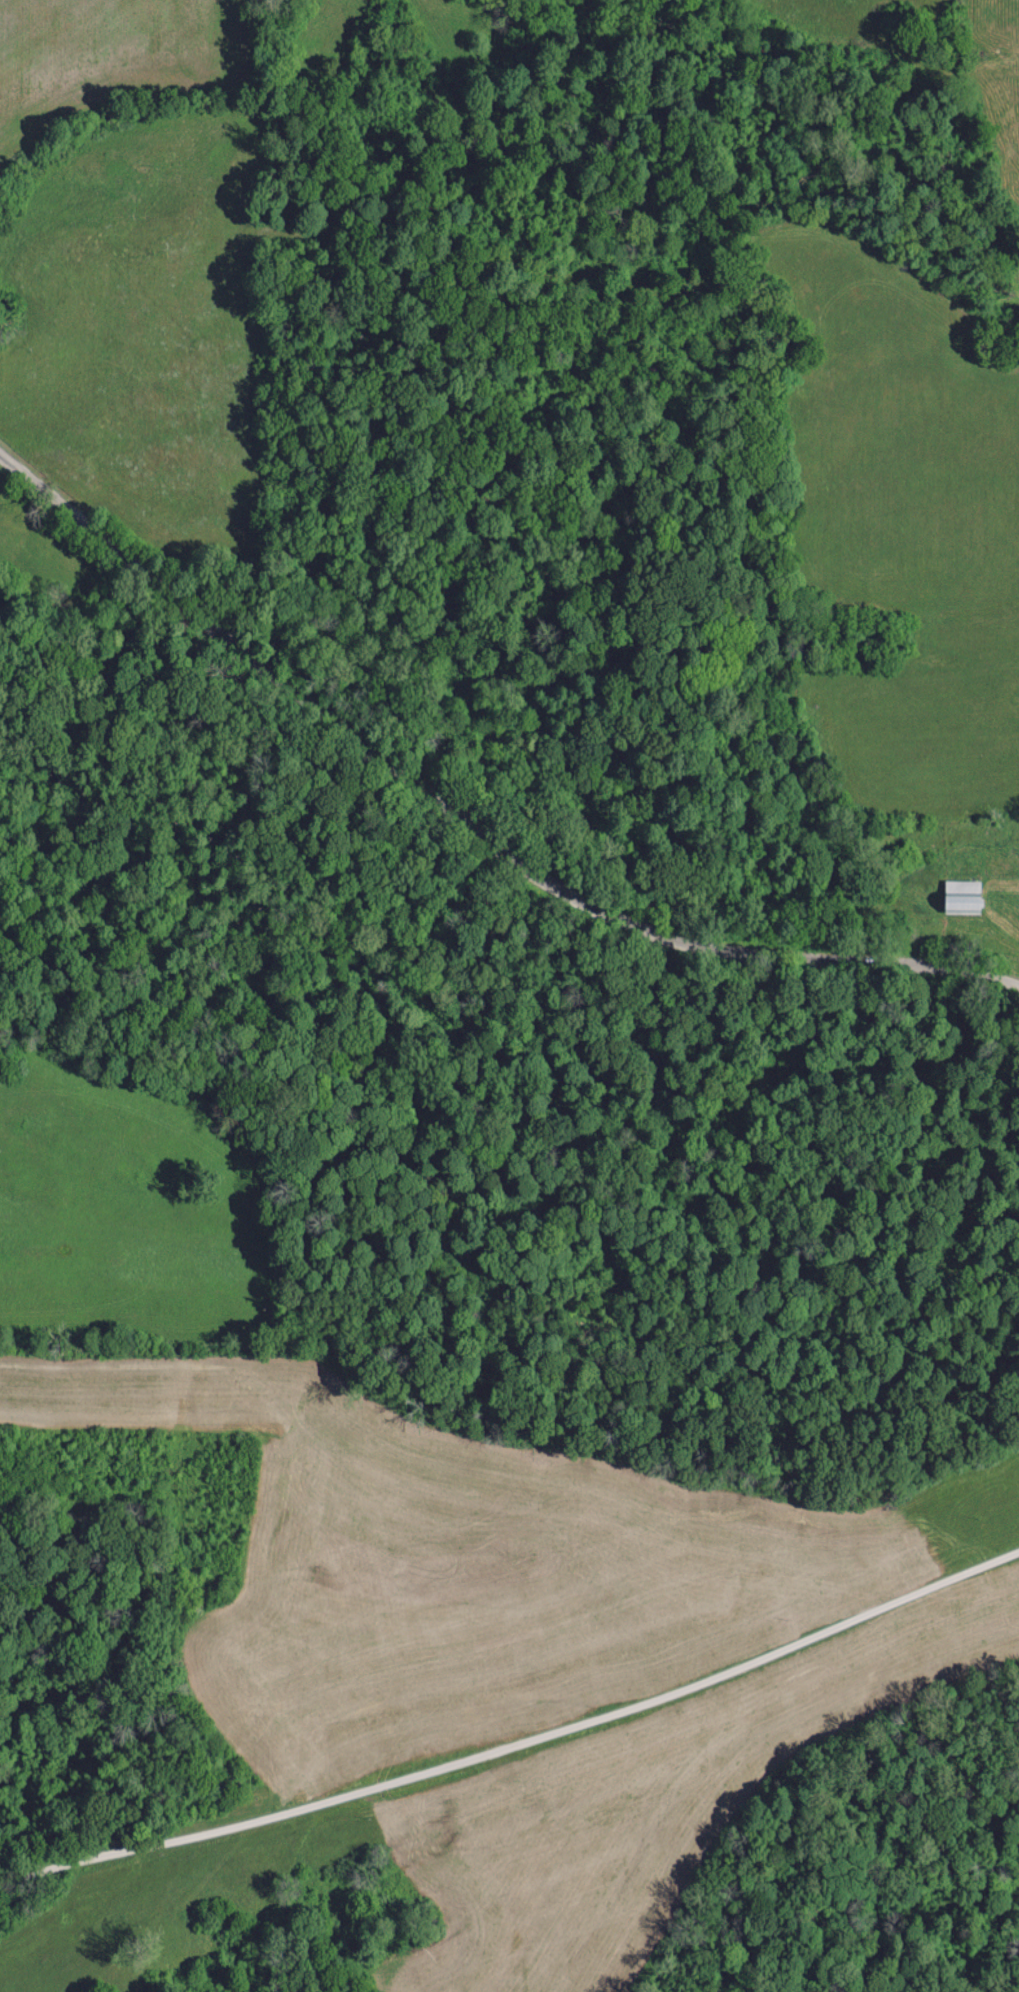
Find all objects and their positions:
road: (459, 827)
building: (963, 896)

